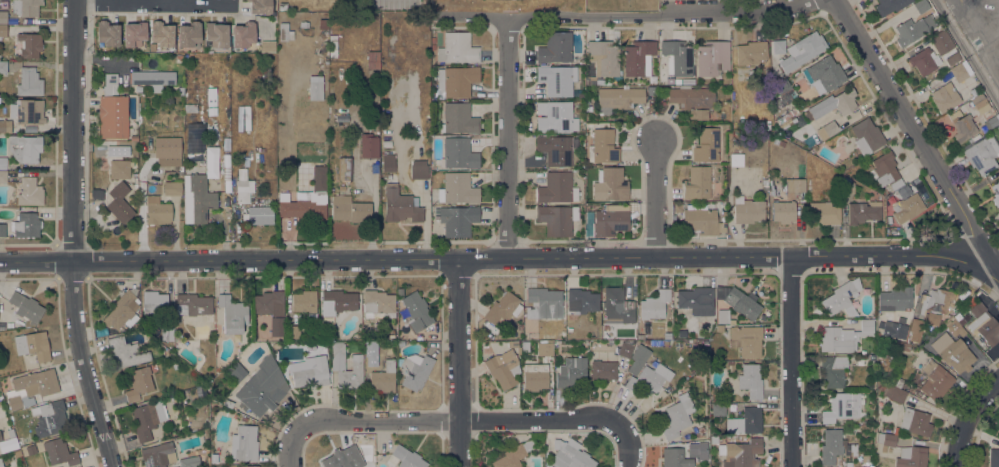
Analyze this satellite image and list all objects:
road: (128, 3)
building: (890, 5)
building: (259, 6)
building: (282, 6)
building: (921, 6)
building: (25, 7)
building: (3, 17)
road: (624, 17)
building: (28, 21)
building: (323, 24)
building: (3, 30)
building: (909, 31)
building: (284, 32)
building: (107, 33)
building: (134, 34)
building: (162, 34)
building: (189, 34)
building: (243, 34)
building: (216, 35)
building: (942, 42)
building: (28, 45)
building: (267, 46)
building: (333, 46)
building: (778, 47)
building: (457, 48)
building: (555, 48)
building: (802, 50)
road: (967, 50)
building: (281, 52)
building: (750, 52)
building: (603, 57)
building: (677, 57)
building: (178, 58)
building: (638, 58)
building: (712, 58)
building: (952, 58)
building: (373, 60)
building: (924, 61)
building: (3, 67)
building: (323, 70)
building: (961, 71)
building: (374, 74)
building: (825, 74)
building: (152, 79)
building: (651, 79)
building: (556, 80)
building: (280, 81)
building: (456, 81)
building: (687, 81)
building: (29, 82)
building: (782, 86)
building: (138, 88)
building: (315, 88)
building: (180, 91)
building: (651, 91)
building: (973, 92)
building: (944, 97)
building: (617, 98)
building: (13, 100)
building: (692, 100)
building: (834, 103)
building: (980, 104)
building: (190, 108)
building: (112, 110)
building: (27, 111)
building: (375, 117)
building: (555, 117)
building: (458, 118)
building: (990, 122)
building: (369, 124)
building: (961, 125)
building: (5, 126)
building: (830, 128)
road: (914, 135)
building: (867, 136)
road: (506, 137)
building: (133, 138)
building: (775, 141)
building: (200, 143)
building: (781, 143)
building: (706, 145)
building: (368, 146)
building: (603, 147)
building: (24, 148)
building: (555, 149)
building: (118, 150)
building: (458, 153)
building: (982, 154)
building: (735, 159)
building: (388, 162)
building: (2, 163)
building: (868, 166)
building: (119, 169)
building: (344, 169)
building: (419, 169)
building: (886, 170)
building: (2, 177)
building: (387, 177)
building: (765, 181)
building: (696, 183)
building: (610, 185)
building: (795, 185)
building: (243, 187)
building: (847, 187)
building: (172, 188)
building: (556, 188)
building: (457, 189)
building: (29, 192)
building: (995, 193)
building: (97, 194)
road: (654, 198)
building: (197, 199)
building: (119, 203)
building: (303, 205)
building: (400, 206)
building: (907, 208)
building: (349, 209)
building: (747, 210)
building: (155, 211)
building: (783, 212)
building: (862, 212)
building: (824, 213)
building: (998, 213)
building: (258, 215)
building: (556, 219)
building: (608, 219)
building: (700, 219)
building: (457, 220)
building: (25, 225)
building: (2, 230)
road: (72, 236)
road: (502, 258)
building: (856, 284)
building: (840, 299)
building: (896, 299)
building: (696, 300)
building: (580, 302)
building: (154, 303)
building: (269, 303)
building: (543, 303)
building: (619, 303)
building: (742, 303)
building: (193, 304)
building: (305, 304)
building: (336, 304)
building: (377, 304)
building: (654, 304)
building: (933, 305)
building: (26, 307)
building: (502, 308)
building: (122, 311)
building: (416, 311)
building: (977, 311)
building: (232, 314)
building: (722, 316)
building: (2, 325)
building: (276, 326)
building: (719, 328)
building: (953, 328)
building: (895, 329)
building: (915, 330)
building: (989, 331)
building: (292, 332)
building: (167, 334)
building: (667, 335)
building: (640, 336)
building: (844, 337)
building: (746, 340)
building: (646, 342)
building: (653, 342)
building: (659, 342)
building: (666, 342)
building: (400, 344)
building: (514, 345)
building: (901, 346)
building: (525, 347)
building: (32, 348)
building: (626, 348)
building: (371, 349)
building: (544, 349)
building: (952, 352)
building: (125, 353)
building: (638, 359)
road: (790, 362)
road: (460, 363)
building: (729, 363)
building: (337, 364)
building: (503, 369)
building: (414, 370)
building: (603, 370)
building: (833, 370)
building: (571, 372)
building: (310, 373)
building: (534, 376)
building: (383, 377)
building: (648, 378)
building: (750, 380)
building: (935, 380)
building: (896, 382)
building: (138, 384)
building: (881, 386)
building: (259, 387)
building: (30, 388)
building: (894, 393)
building: (715, 398)
building: (228, 403)
building: (841, 407)
building: (718, 410)
building: (677, 416)
road: (966, 416)
building: (49, 418)
building: (243, 418)
building: (147, 419)
building: (745, 421)
building: (915, 422)
road: (461, 424)
building: (998, 427)
building: (701, 429)
building: (695, 430)
building: (10, 433)
building: (0, 439)
building: (885, 441)
building: (244, 443)
road: (628, 444)
building: (830, 446)
road: (296, 447)
building: (30, 449)
building: (59, 452)
building: (741, 453)
building: (158, 455)
building: (513, 455)
building: (569, 455)
building: (911, 457)
building: (346, 458)
building: (404, 458)
building: (675, 458)
building: (865, 458)
building: (993, 458)
building: (194, 461)
building: (0, 464)
building: (842, 464)
building: (250, 466)

